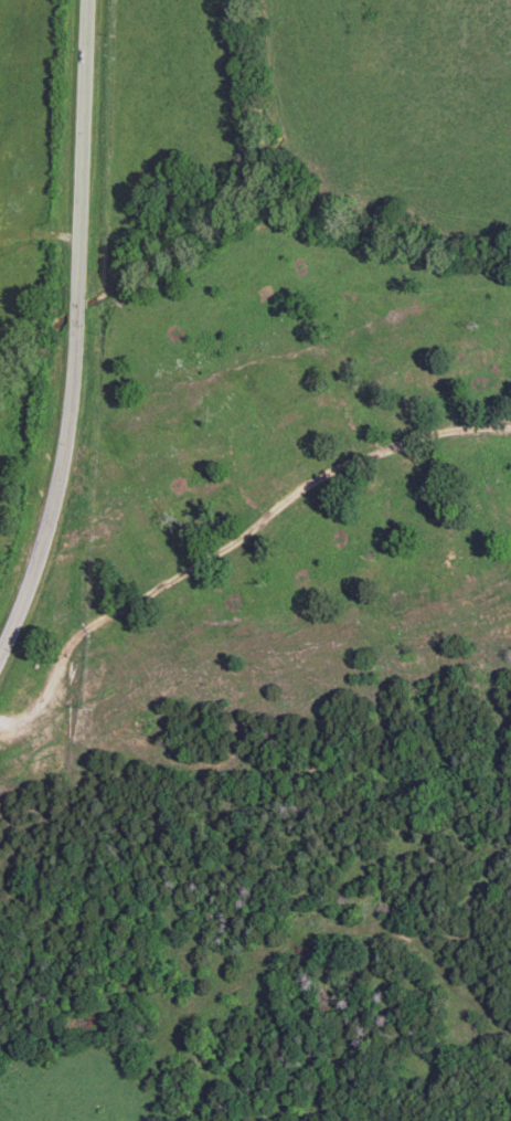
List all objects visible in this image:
road: (79, 321)

